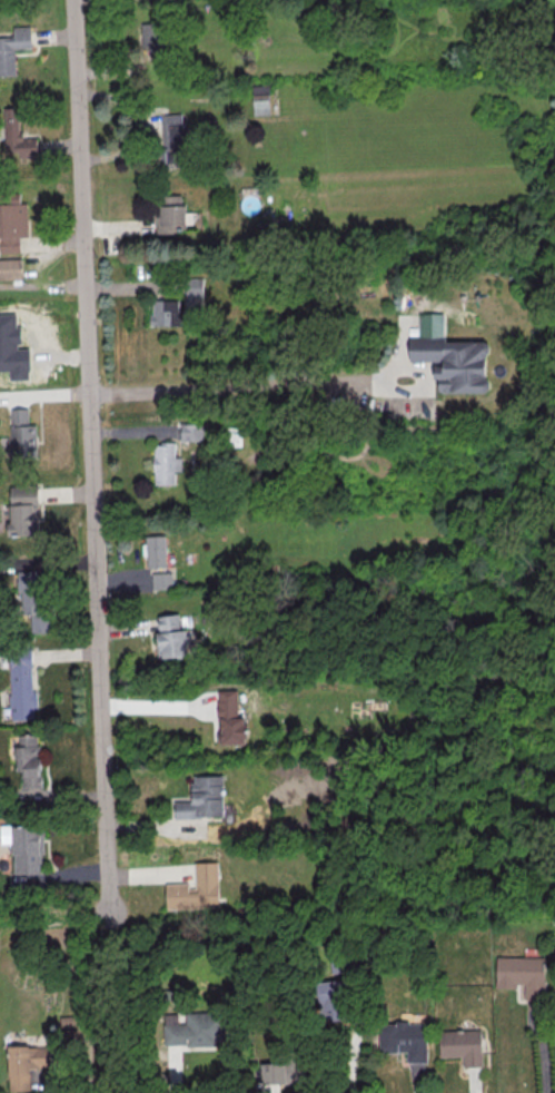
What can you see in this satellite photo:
road: (50, 37)
building: (155, 41)
building: (11, 48)
road: (111, 69)
building: (14, 134)
building: (169, 141)
road: (54, 146)
building: (167, 214)
building: (10, 223)
road: (116, 226)
road: (49, 244)
building: (9, 268)
building: (191, 286)
road: (132, 287)
building: (167, 313)
building: (447, 355)
road: (260, 387)
road: (46, 394)
road: (132, 431)
building: (189, 432)
building: (19, 433)
road: (88, 456)
building: (162, 463)
road: (61, 493)
building: (20, 510)
building: (152, 551)
road: (46, 563)
road: (120, 581)
building: (159, 581)
building: (31, 600)
road: (126, 629)
building: (167, 637)
road: (62, 654)
building: (18, 683)
road: (156, 706)
building: (227, 717)
building: (26, 759)
road: (61, 798)
building: (199, 798)
road: (149, 826)
building: (22, 846)
road: (148, 874)
road: (59, 876)
building: (192, 888)
building: (341, 959)
building: (519, 974)
building: (329, 1000)
road: (108, 1003)
building: (194, 1028)
road: (355, 1031)
building: (402, 1038)
building: (460, 1045)
road: (539, 1052)
building: (22, 1063)
road: (171, 1069)
building: (279, 1070)

